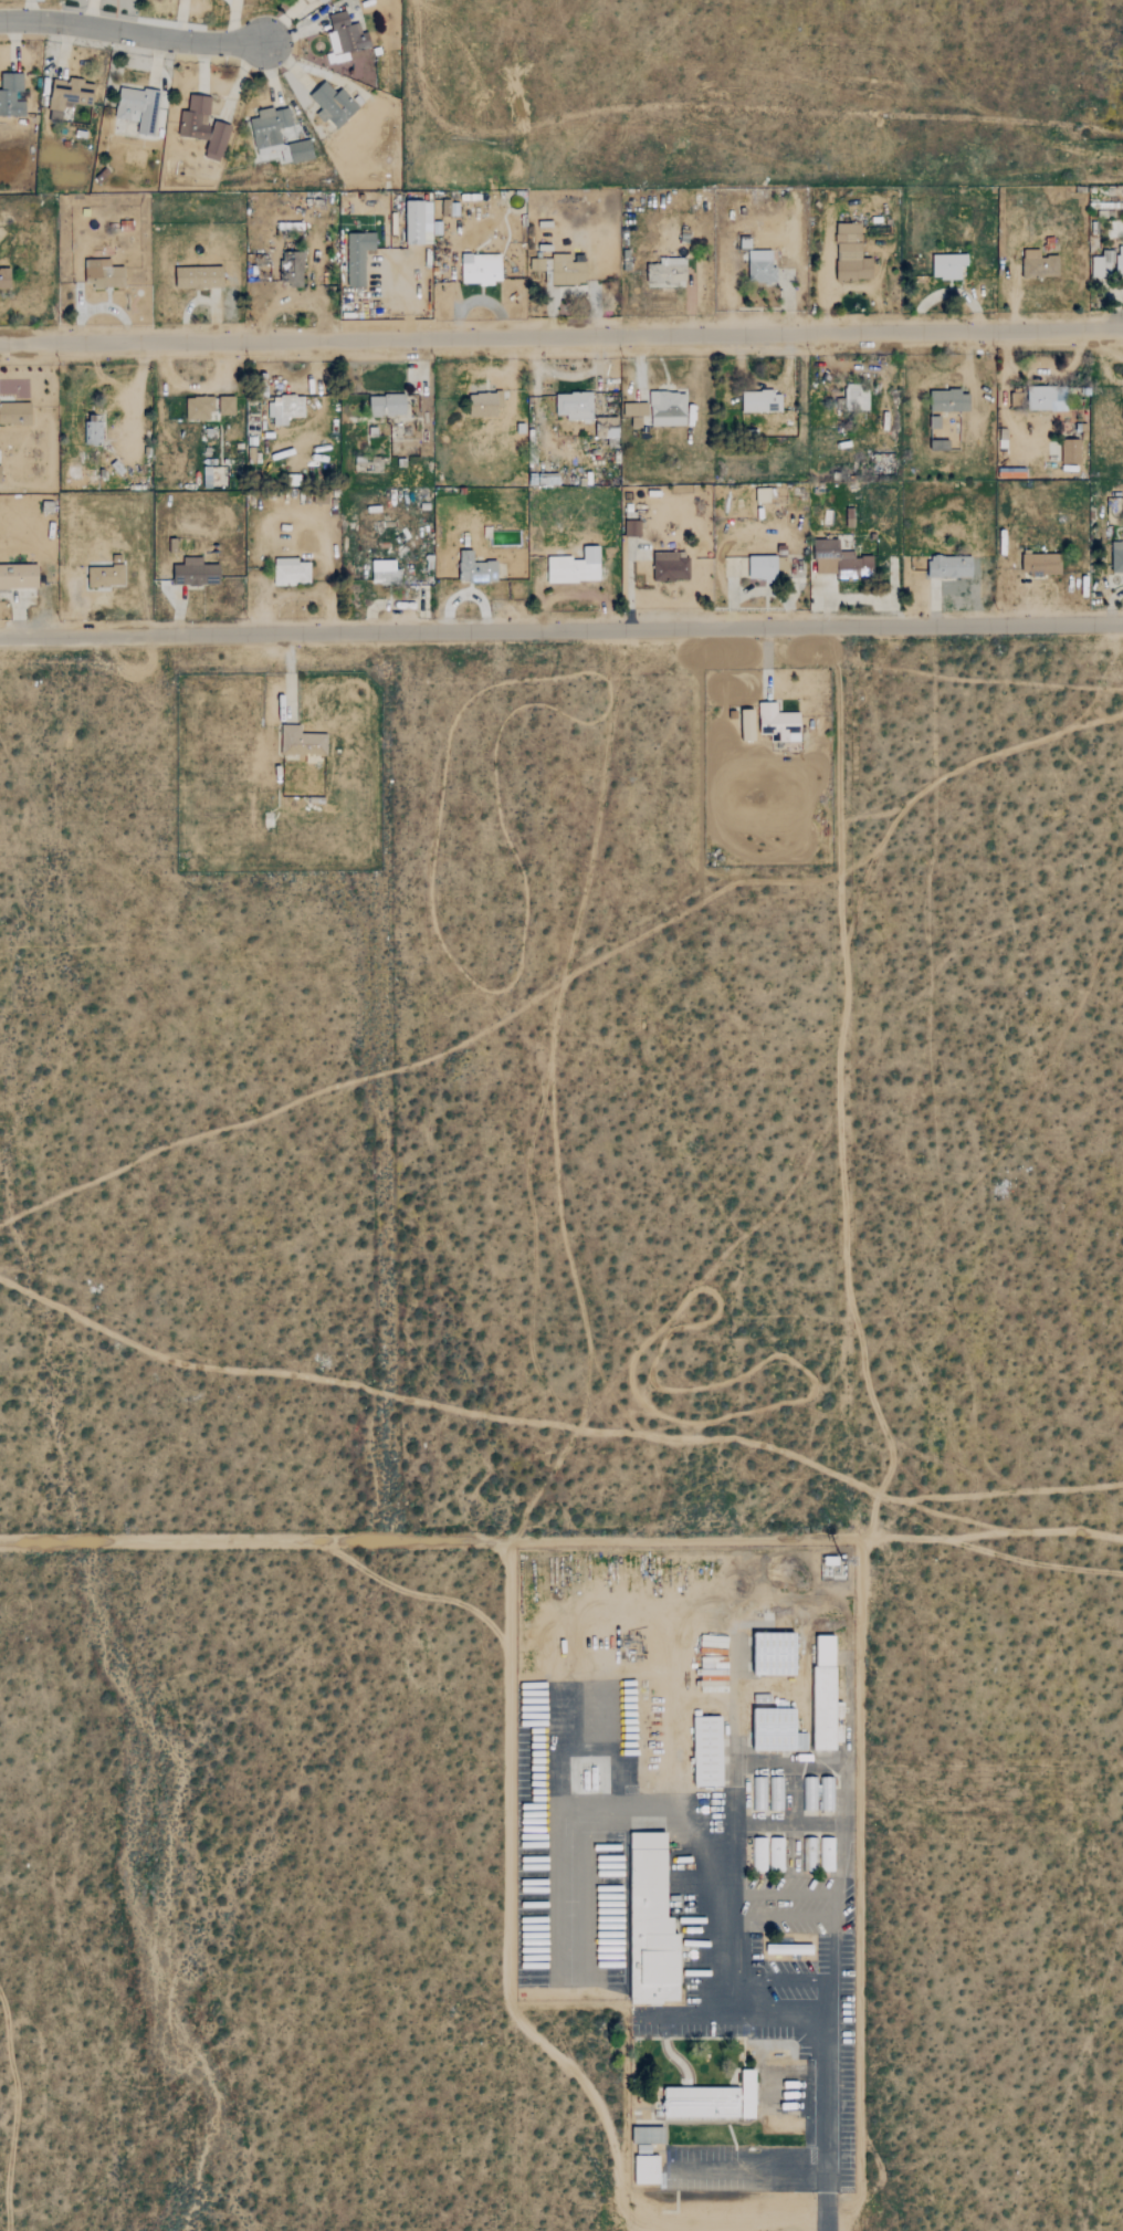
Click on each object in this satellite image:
building: (323, 1)
road: (129, 33)
building: (346, 39)
building: (11, 95)
building: (69, 96)
building: (333, 105)
building: (138, 108)
building: (196, 118)
building: (269, 129)
building: (218, 142)
building: (302, 151)
building: (414, 222)
building: (851, 254)
building: (358, 256)
building: (1106, 262)
building: (1035, 264)
building: (948, 265)
building: (762, 268)
building: (292, 269)
building: (482, 270)
building: (567, 270)
building: (668, 272)
building: (103, 274)
building: (200, 279)
building: (6, 280)
road: (561, 333)
building: (856, 397)
building: (1041, 398)
building: (951, 400)
building: (763, 401)
building: (485, 404)
building: (1121, 404)
building: (227, 405)
building: (388, 405)
building: (574, 405)
building: (199, 407)
building: (285, 408)
building: (668, 408)
building: (15, 411)
building: (636, 411)
building: (91, 429)
building: (940, 444)
building: (1067, 450)
building: (0, 473)
building: (632, 528)
building: (1116, 554)
building: (841, 561)
building: (1039, 563)
building: (670, 565)
building: (760, 565)
building: (949, 565)
building: (576, 566)
building: (476, 569)
building: (385, 570)
building: (196, 572)
building: (291, 572)
building: (106, 575)
building: (19, 576)
road: (561, 630)
building: (746, 721)
building: (778, 722)
building: (303, 741)
road: (990, 1532)
road: (777, 1539)
building: (775, 1654)
building: (714, 1673)
building: (825, 1693)
building: (777, 1730)
building: (709, 1751)
road: (836, 1763)
building: (827, 1793)
building: (756, 1794)
building: (775, 1794)
building: (809, 1794)
building: (775, 1854)
building: (808, 1854)
building: (827, 1854)
building: (758, 1855)
building: (652, 1923)
road: (781, 1978)
road: (510, 1996)
road: (683, 2013)
building: (710, 2098)
building: (647, 2133)
building: (646, 2167)
road: (746, 2168)
road: (825, 2221)

